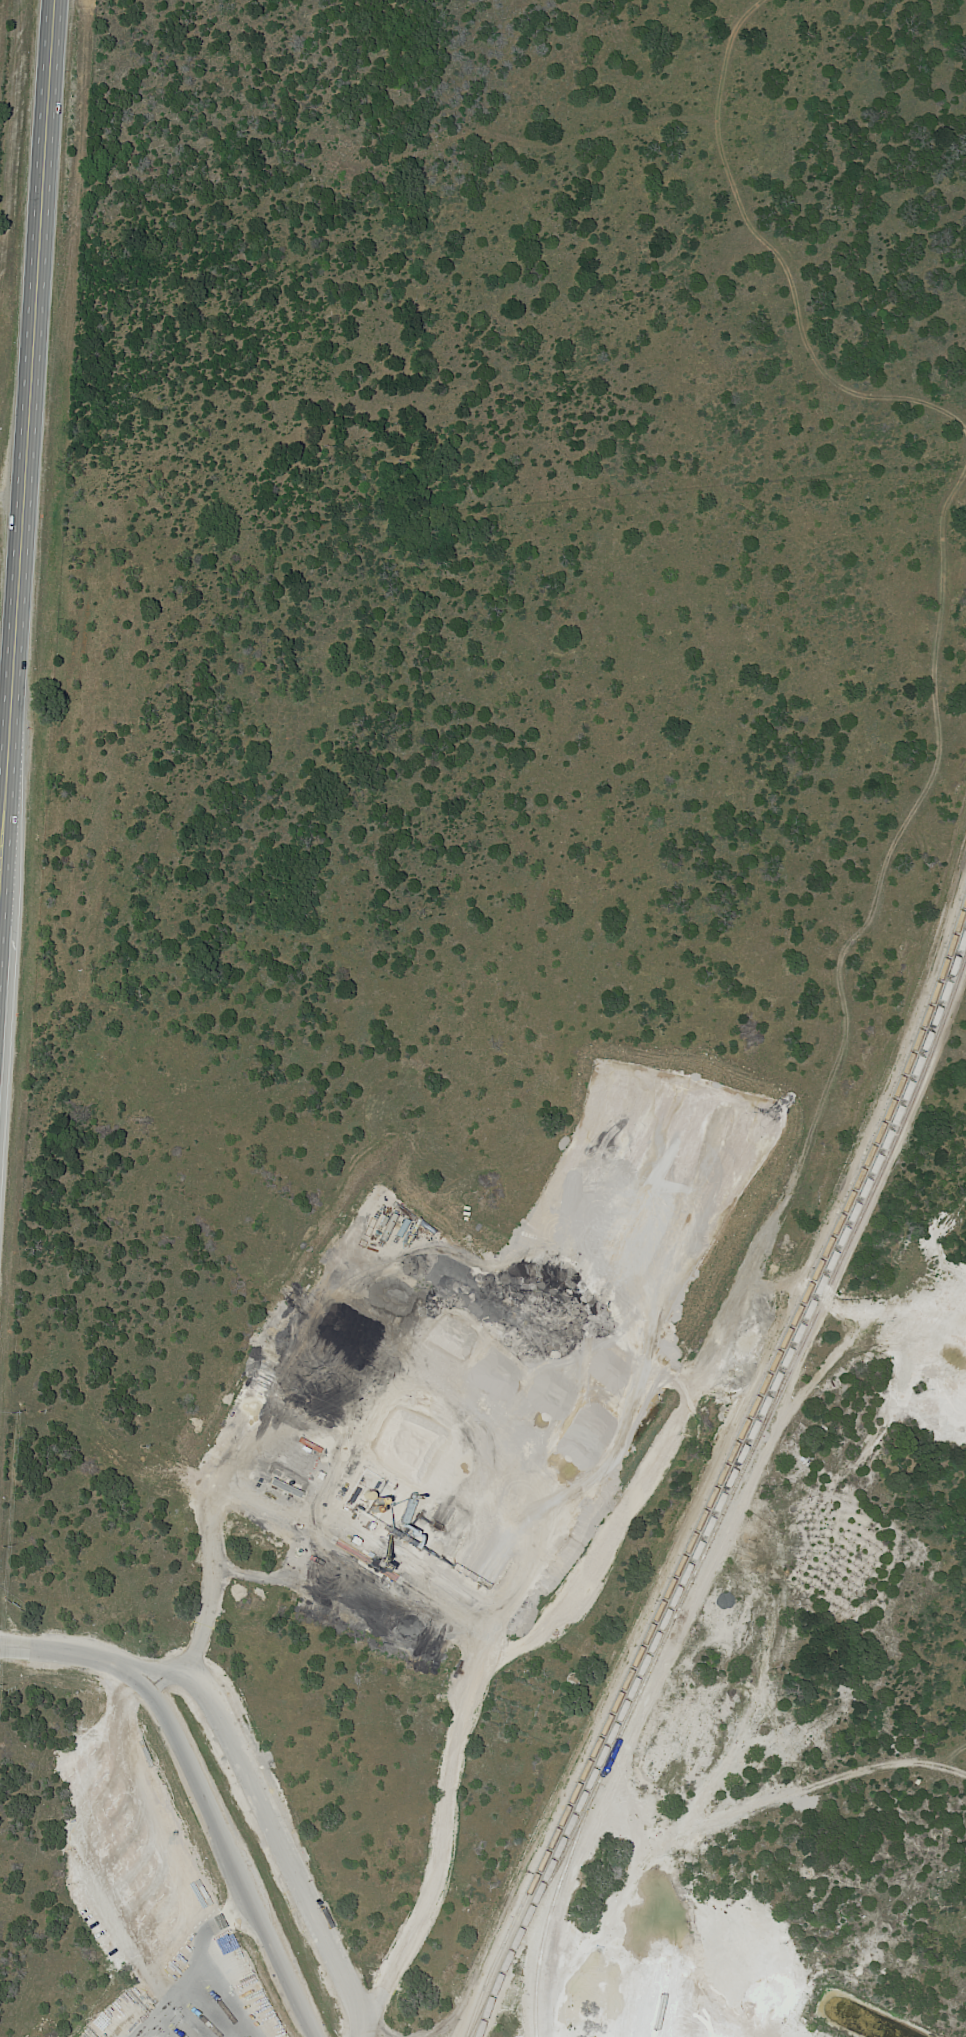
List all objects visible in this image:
road: (25, 422)
road: (682, 1419)
road: (779, 1422)
railway: (722, 1464)
railway: (725, 1483)
railway: (733, 1489)
road: (605, 1680)
road: (196, 1793)
road: (799, 1802)
road: (265, 1828)
railway: (555, 1863)
road: (639, 1947)
road: (209, 1959)
quarry: (698, 1985)
railway: (486, 2004)
road: (376, 2025)

